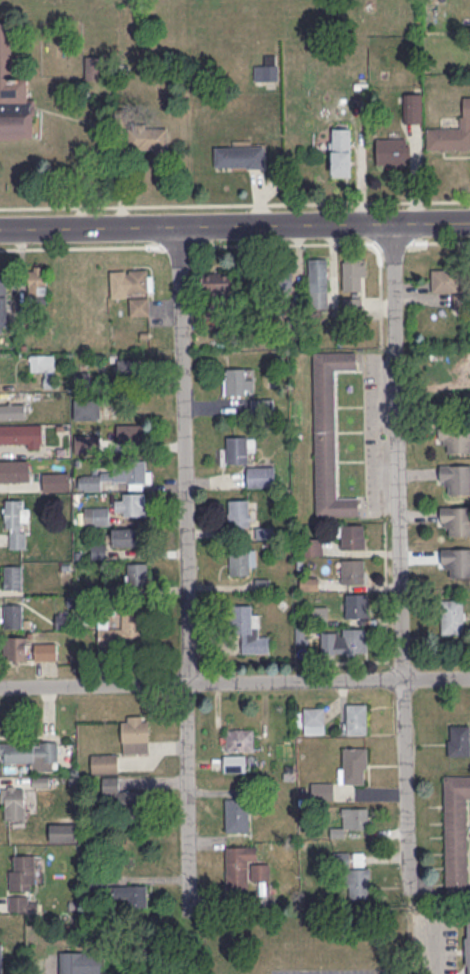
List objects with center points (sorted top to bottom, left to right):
building: (92, 66)
building: (267, 68)
building: (13, 93)
building: (412, 107)
building: (452, 132)
building: (148, 138)
building: (341, 150)
building: (393, 152)
building: (239, 156)
road: (235, 203)
road: (234, 224)
road: (440, 241)
road: (394, 242)
road: (377, 244)
road: (182, 245)
road: (81, 246)
building: (354, 273)
building: (318, 279)
building: (445, 280)
building: (37, 282)
building: (219, 282)
building: (133, 288)
building: (4, 298)
building: (128, 367)
building: (45, 368)
building: (237, 382)
building: (87, 408)
road: (382, 409)
building: (16, 410)
building: (130, 432)
building: (16, 433)
building: (329, 433)
building: (455, 437)
building: (86, 442)
building: (239, 448)
building: (14, 470)
building: (133, 475)
building: (260, 476)
building: (456, 477)
building: (57, 481)
building: (90, 482)
building: (130, 503)
building: (239, 513)
building: (96, 515)
building: (456, 519)
building: (16, 523)
building: (125, 536)
building: (353, 536)
road: (400, 553)
building: (456, 560)
building: (242, 561)
road: (187, 566)
building: (353, 570)
building: (137, 573)
building: (13, 576)
building: (355, 607)
building: (13, 615)
building: (452, 615)
building: (132, 626)
building: (250, 629)
building: (108, 636)
building: (344, 641)
building: (16, 647)
building: (46, 650)
road: (235, 682)
building: (357, 718)
building: (314, 719)
building: (135, 734)
building: (239, 739)
building: (458, 739)
building: (31, 753)
building: (105, 762)
building: (352, 767)
building: (325, 789)
building: (125, 798)
building: (13, 802)
building: (237, 814)
building: (355, 817)
building: (456, 827)
building: (63, 831)
building: (349, 858)
building: (243, 867)
building: (23, 871)
building: (356, 883)
road: (438, 893)
building: (131, 894)
building: (21, 902)
road: (410, 903)
road: (429, 945)
building: (468, 947)
building: (1, 958)
building: (81, 962)

